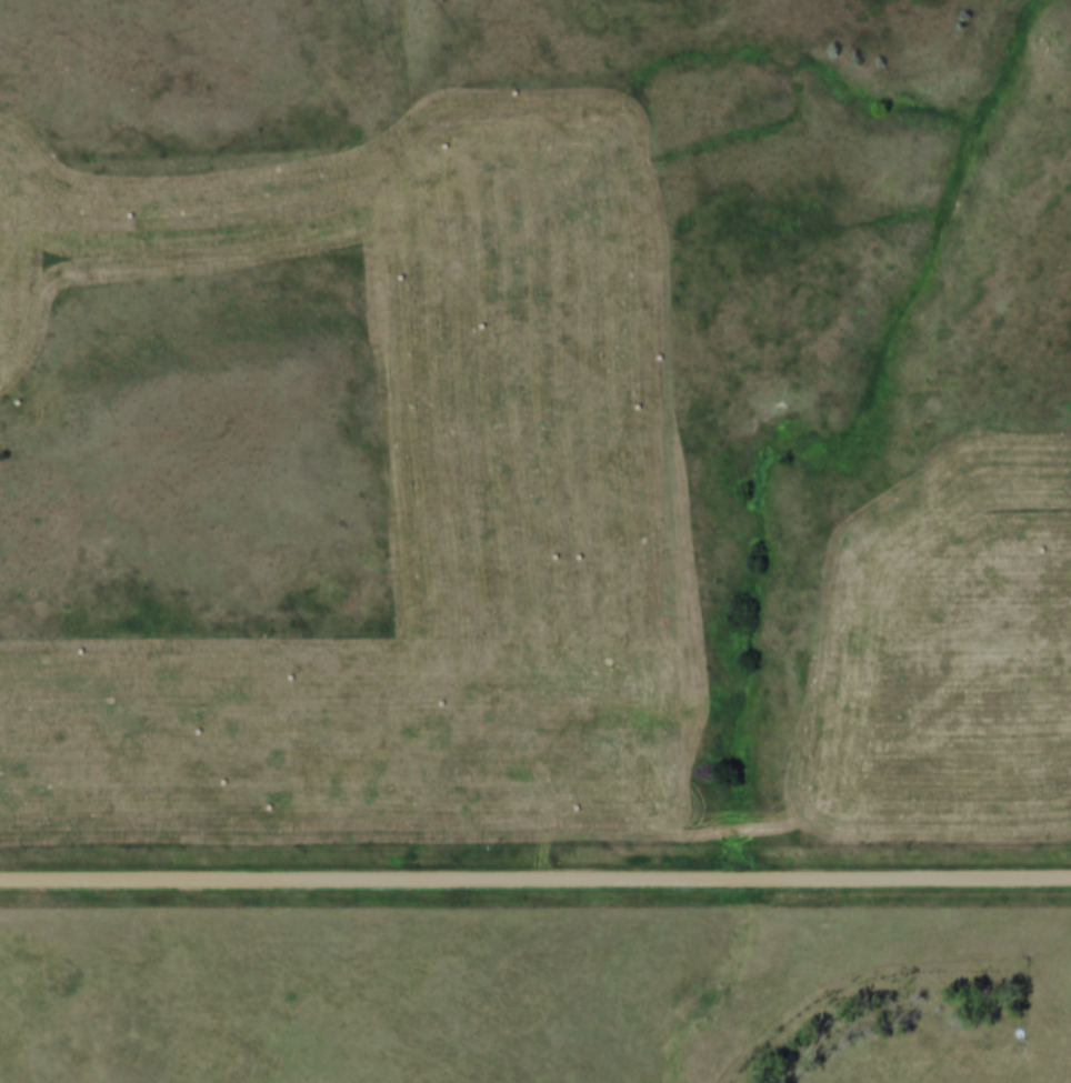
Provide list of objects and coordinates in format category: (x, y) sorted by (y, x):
road: (534, 876)

